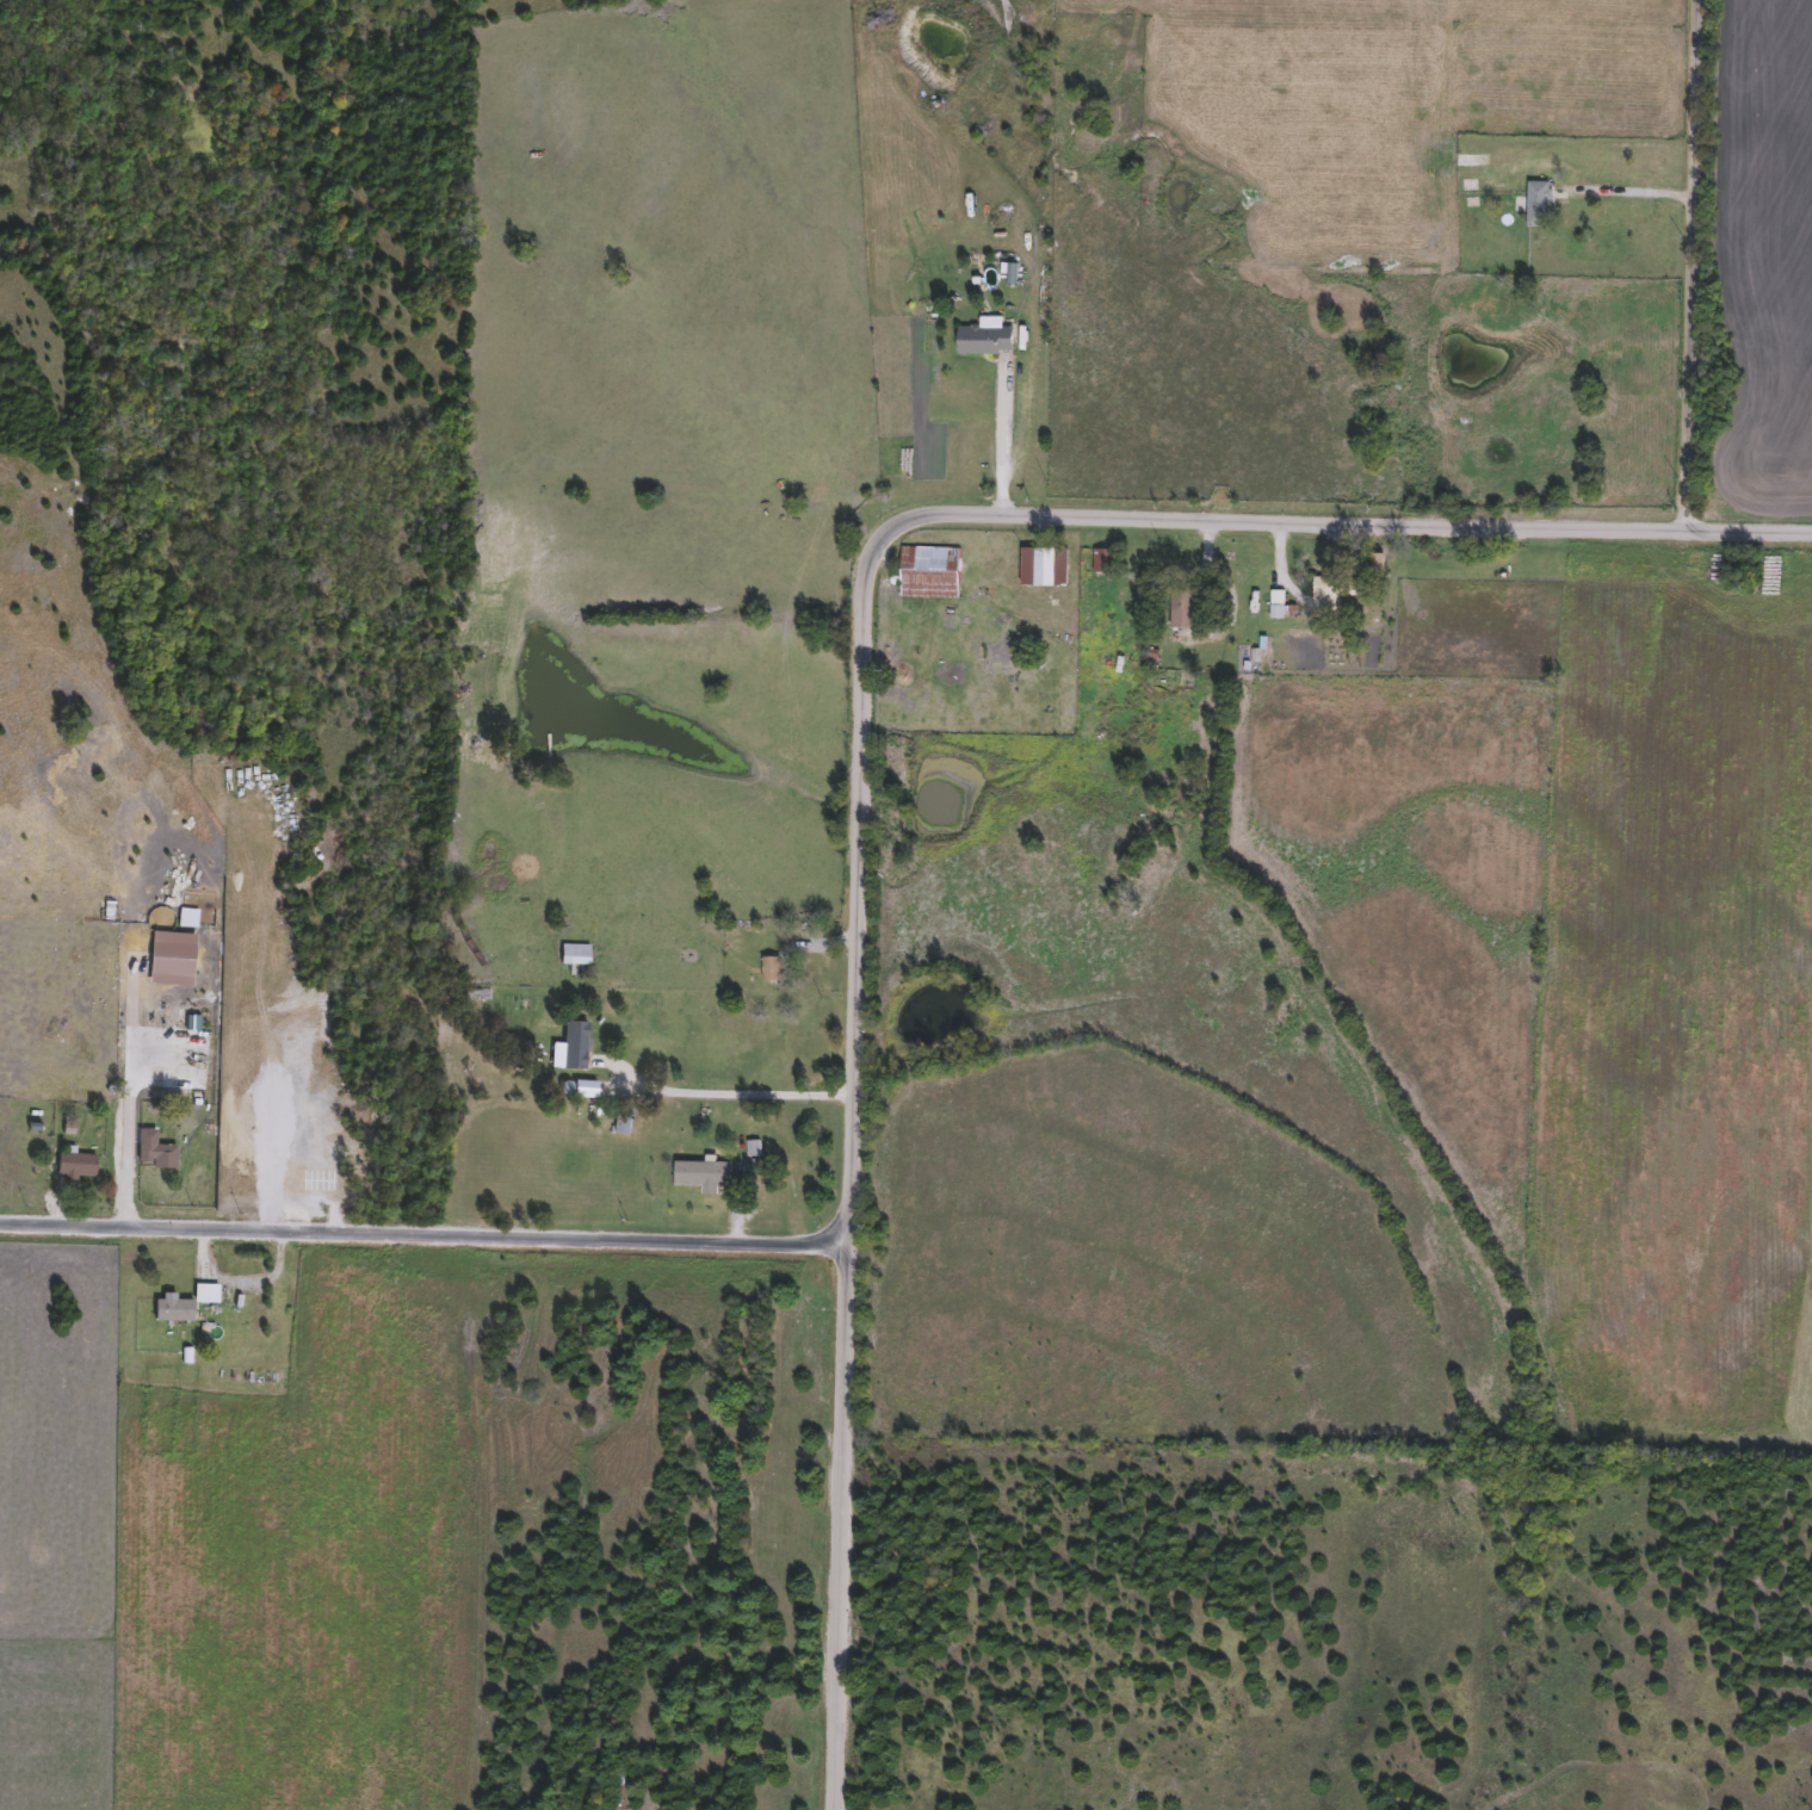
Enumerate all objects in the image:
road: (1632, 192)
building: (1536, 205)
road: (1689, 264)
building: (983, 340)
road: (1002, 440)
building: (1100, 560)
building: (1043, 566)
road: (1280, 566)
building: (928, 572)
road: (1208, 576)
building: (1331, 591)
building: (1182, 607)
road: (866, 705)
building: (574, 955)
building: (769, 969)
building: (573, 1046)
road: (731, 1095)
building: (153, 1151)
building: (264, 1158)
building: (74, 1166)
building: (703, 1174)
road: (423, 1234)
building: (184, 1304)

